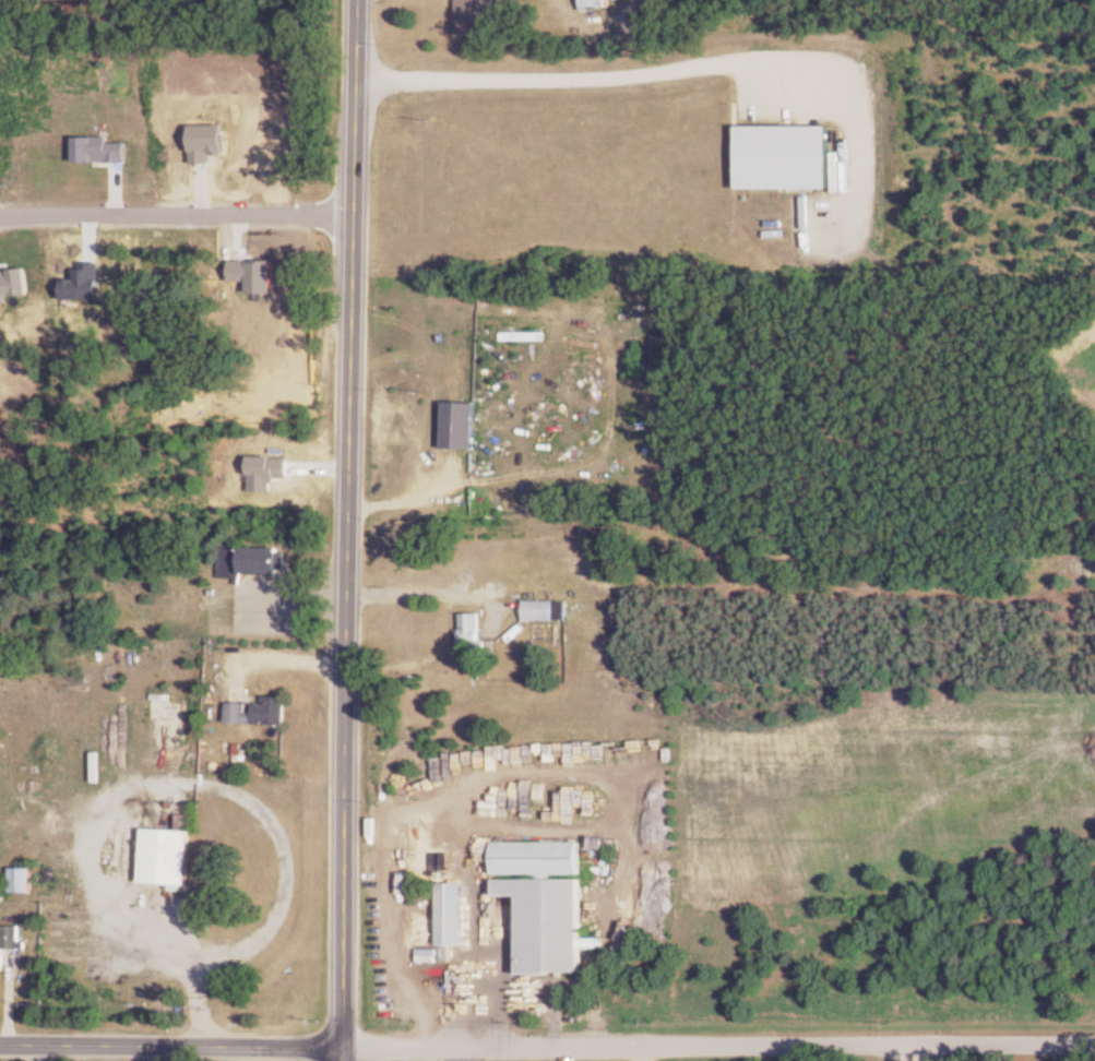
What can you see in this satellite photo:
building: (594, 3)
building: (474, 15)
road: (361, 29)
road: (575, 71)
building: (784, 156)
road: (178, 211)
building: (234, 281)
building: (154, 325)
building: (276, 357)
building: (460, 425)
building: (674, 456)
building: (251, 559)
road: (352, 559)
building: (546, 610)
building: (472, 633)
road: (294, 658)
building: (259, 712)
road: (480, 775)
road: (148, 779)
building: (165, 857)
building: (536, 858)
building: (21, 879)
building: (450, 918)
building: (546, 923)
building: (10, 940)
road: (522, 988)
road: (547, 1047)
road: (650, 1053)

